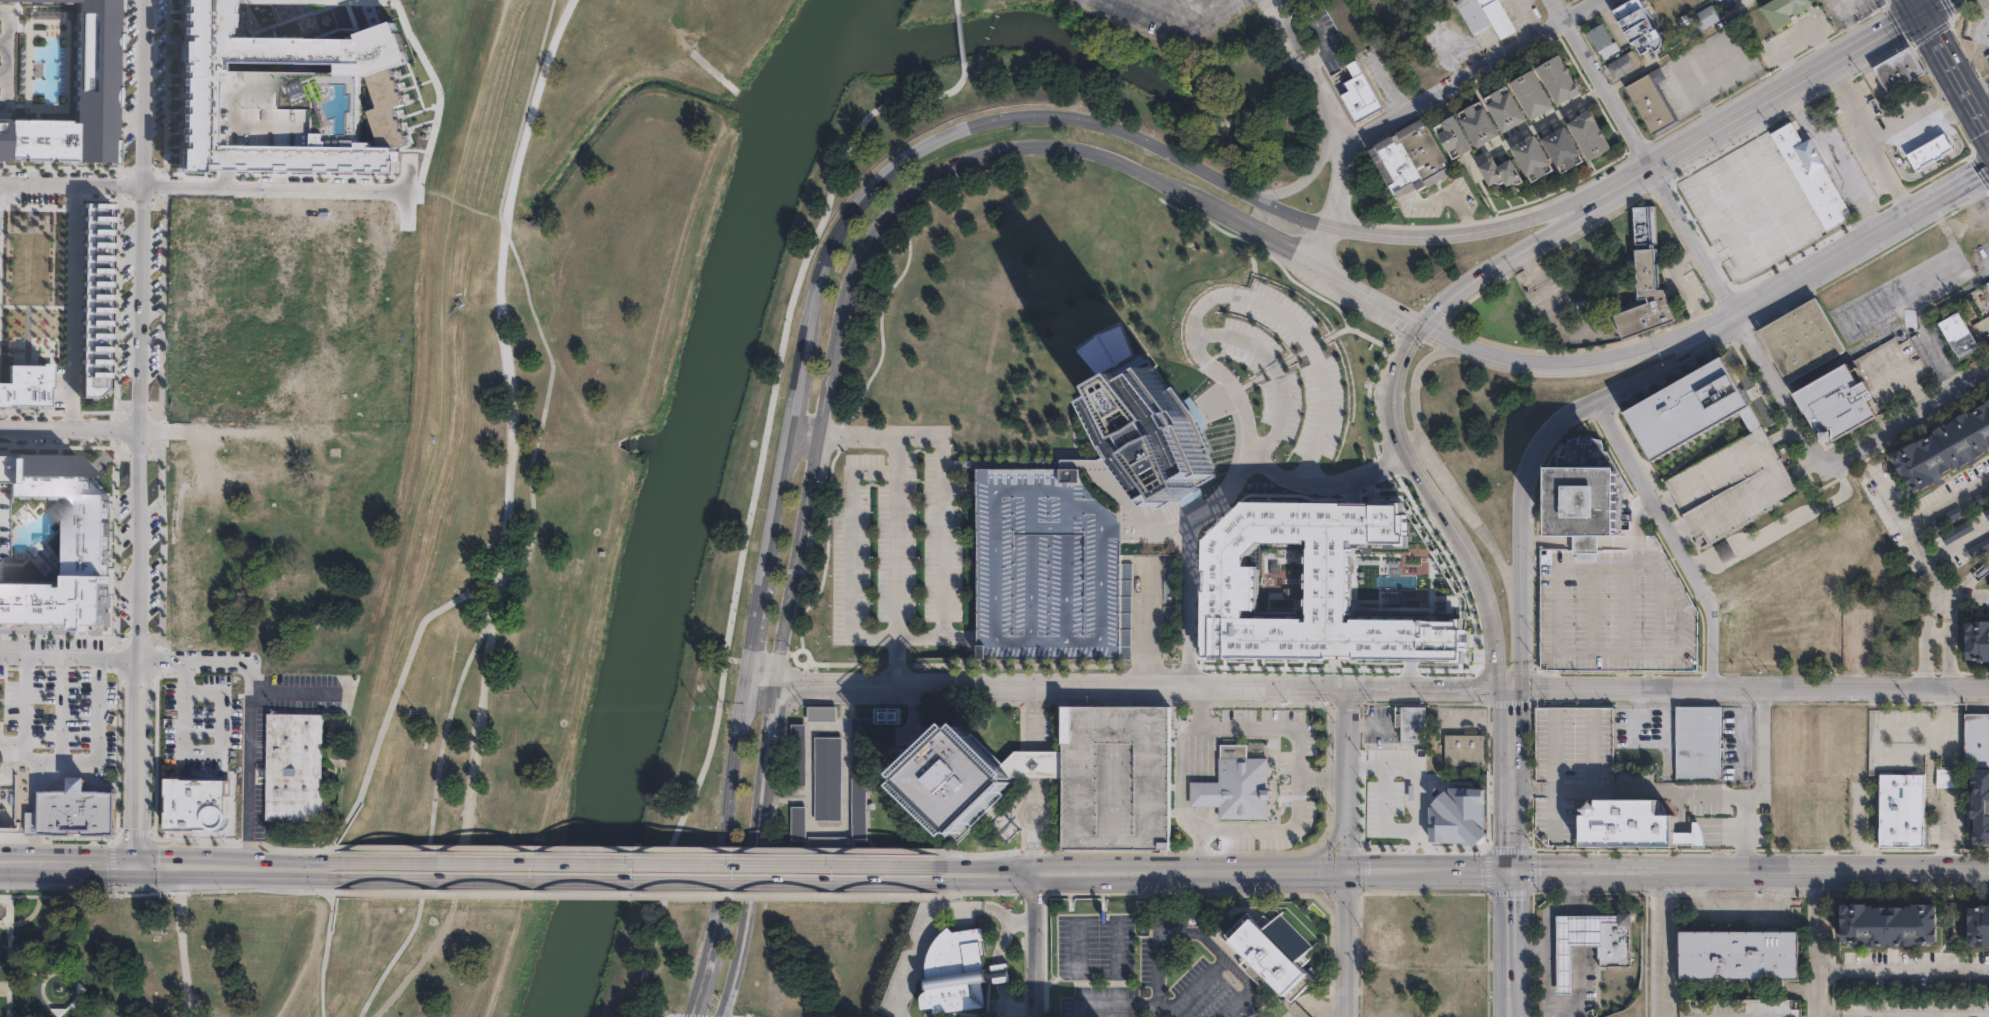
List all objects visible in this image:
road: (1145, 1)
road: (1736, 1)
road: (1280, 4)
road: (1915, 6)
road: (1929, 6)
road: (958, 8)
road: (1556, 9)
building: (1784, 10)
traffic signals: (1919, 12)
parking lot: (1165, 14)
road: (1177, 14)
road: (1914, 14)
building: (1488, 16)
building: (1706, 18)
road: (1852, 21)
building: (1641, 24)
road: (546, 35)
road: (961, 38)
road: (1795, 38)
building: (1604, 40)
road: (1, 41)
road: (1324, 45)
road: (2, 58)
building: (1625, 64)
building: (1897, 68)
road: (1468, 70)
road: (1953, 74)
building: (1558, 78)
building: (1531, 93)
building: (1362, 94)
road: (1942, 94)
building: (76, 96)
building: (289, 98)
road: (1700, 100)
road: (1756, 103)
building: (1651, 104)
building: (1505, 108)
road: (1952, 110)
road: (1035, 119)
building: (1478, 124)
road: (1337, 125)
road: (1901, 127)
building: (1590, 134)
building: (1453, 136)
road: (1866, 138)
building: (1561, 147)
building: (1928, 151)
building: (1530, 156)
building: (1411, 157)
road: (1831, 157)
road: (1761, 160)
road: (1649, 164)
road: (1932, 165)
road: (1979, 169)
building: (1499, 171)
traffic signals: (1977, 173)
building: (1755, 178)
building: (1813, 178)
road: (1301, 179)
road: (72, 184)
road: (272, 192)
road: (1930, 199)
road: (1969, 200)
building: (1724, 206)
road: (1967, 222)
road: (1272, 242)
road: (1716, 245)
road: (1512, 255)
road: (1707, 257)
road: (1953, 257)
road: (857, 259)
road: (1986, 264)
road: (1794, 277)
building: (1649, 280)
road: (1678, 284)
building: (1984, 291)
road: (1368, 293)
road: (1248, 294)
road: (1886, 299)
road: (71, 309)
building: (1983, 326)
building: (1956, 334)
road: (1884, 335)
building: (1800, 339)
road: (1399, 355)
road: (1569, 362)
road: (1274, 374)
road: (1909, 383)
park: (642, 384)
building: (1836, 403)
road: (1585, 407)
building: (1690, 408)
road: (1392, 426)
building: (1150, 430)
road: (1784, 431)
road: (141, 433)
road: (70, 434)
road: (799, 434)
road: (858, 434)
building: (1949, 449)
road: (1829, 462)
road: (1804, 464)
road: (1440, 470)
road: (1337, 483)
road: (1421, 484)
building: (1731, 485)
parking garage: (1731, 485)
river: (688, 500)
building: (1581, 500)
road: (1946, 500)
road: (1665, 501)
road: (752, 503)
building: (1987, 512)
building: (0, 513)
parking garage: (0, 513)
road: (535, 515)
road: (1637, 516)
road: (1802, 516)
building: (1946, 517)
helipad: (1584, 522)
road: (1681, 530)
road: (1908, 531)
building: (1957, 531)
road: (902, 535)
road: (943, 537)
road: (1674, 539)
road: (1547, 541)
road: (1583, 542)
road: (1957, 542)
building: (84, 547)
building: (1978, 547)
parking lot: (895, 548)
road: (1723, 549)
building: (1723, 550)
road: (850, 553)
road: (1703, 560)
road: (1191, 561)
building: (1045, 564)
parking garage: (1045, 564)
building: (1330, 584)
building: (1169, 590)
road: (1481, 596)
road: (1965, 597)
building: (1614, 607)
parking garage: (1614, 607)
road: (1143, 609)
building: (1170, 614)
road: (1522, 615)
road: (1930, 615)
road: (1947, 617)
road: (752, 632)
road: (485, 634)
road: (960, 638)
road: (1938, 638)
building: (1979, 639)
road: (1623, 650)
road: (69, 657)
road: (194, 659)
road: (736, 659)
road: (902, 660)
road: (1926, 663)
road: (1949, 664)
traffic signals: (745, 683)
traffic signals: (776, 683)
road: (1129, 685)
traffic signals: (1514, 689)
road: (1751, 689)
road: (293, 692)
road: (394, 696)
road: (1115, 696)
road: (1553, 697)
road: (1587, 698)
park: (1, 699)
road: (22, 700)
parking lot: (57, 703)
road: (60, 708)
road: (841, 711)
building: (821, 713)
building: (884, 715)
road: (1034, 718)
building: (1414, 724)
parking lot: (200, 725)
road: (1268, 727)
road: (1665, 729)
road: (1744, 729)
road: (1634, 731)
building: (1975, 740)
building: (1697, 742)
road: (807, 744)
road: (1891, 749)
building: (1466, 750)
road: (206, 752)
building: (797, 753)
road: (248, 759)
road: (90, 760)
road: (1035, 765)
building: (292, 767)
building: (1569, 767)
parking garage: (1569, 767)
building: (1949, 777)
building: (826, 778)
building: (858, 778)
building: (1115, 778)
parking garage: (1115, 778)
road: (1515, 779)
building: (965, 781)
building: (1234, 784)
road: (1416, 786)
road: (1762, 788)
road: (784, 791)
road: (1693, 795)
building: (196, 804)
building: (1979, 806)
building: (1900, 809)
building: (73, 812)
building: (1410, 812)
road: (844, 813)
road: (1382, 816)
building: (796, 822)
building: (1625, 824)
road: (1035, 826)
road: (1210, 826)
road: (1944, 834)
building: (1689, 837)
road: (1330, 840)
building: (826, 842)
road: (295, 849)
road: (642, 849)
road: (722, 851)
road: (753, 851)
road: (1348, 851)
road: (990, 854)
road: (235, 858)
road: (67, 863)
road: (642, 863)
traffic signals: (135, 867)
road: (990, 869)
road: (1432, 870)
traffic signals: (1516, 870)
road: (1588, 870)
road: (1191, 871)
traffic signals: (1349, 871)
road: (1824, 871)
road: (236, 878)
road: (990, 878)
road: (642, 881)
road: (257, 884)
road: (312, 891)
road: (143, 892)
road: (1577, 892)
road: (988, 893)
road: (642, 895)
road: (1735, 908)
road: (26, 917)
road: (935, 922)
building: (1888, 925)
building: (1976, 926)
road: (1578, 930)
road: (1194, 932)
building: (1593, 942)
road: (1515, 943)
road: (1661, 943)
road: (1033, 944)
road: (1820, 944)
road: (1544, 949)
road: (1530, 951)
building: (1271, 952)
road: (181, 954)
road: (325, 954)
building: (1739, 954)
road: (8, 955)
park: (262, 955)
road: (23, 966)
road: (1831, 971)
road: (1915, 971)
building: (999, 972)
road: (46, 975)
building: (957, 976)
road: (1578, 983)
building: (1859, 983)
building: (1902, 983)
building: (1944, 983)
road: (1190, 988)
road: (1114, 1004)
road: (1324, 1004)
road: (1018, 1010)
road: (1299, 1012)
road: (670, 1014)
road: (694, 1015)
road: (1830, 1015)
road: (1915, 1015)
road: (1294, 1016)

